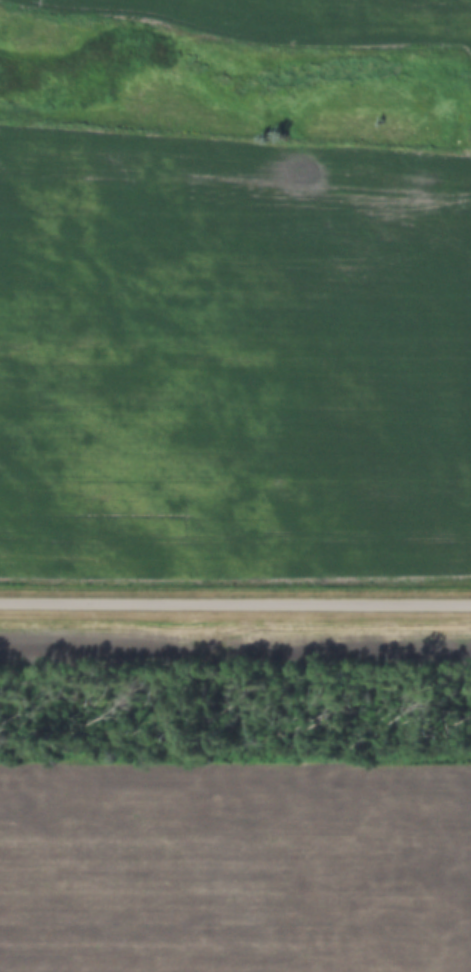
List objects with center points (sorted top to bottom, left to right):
road: (235, 601)

